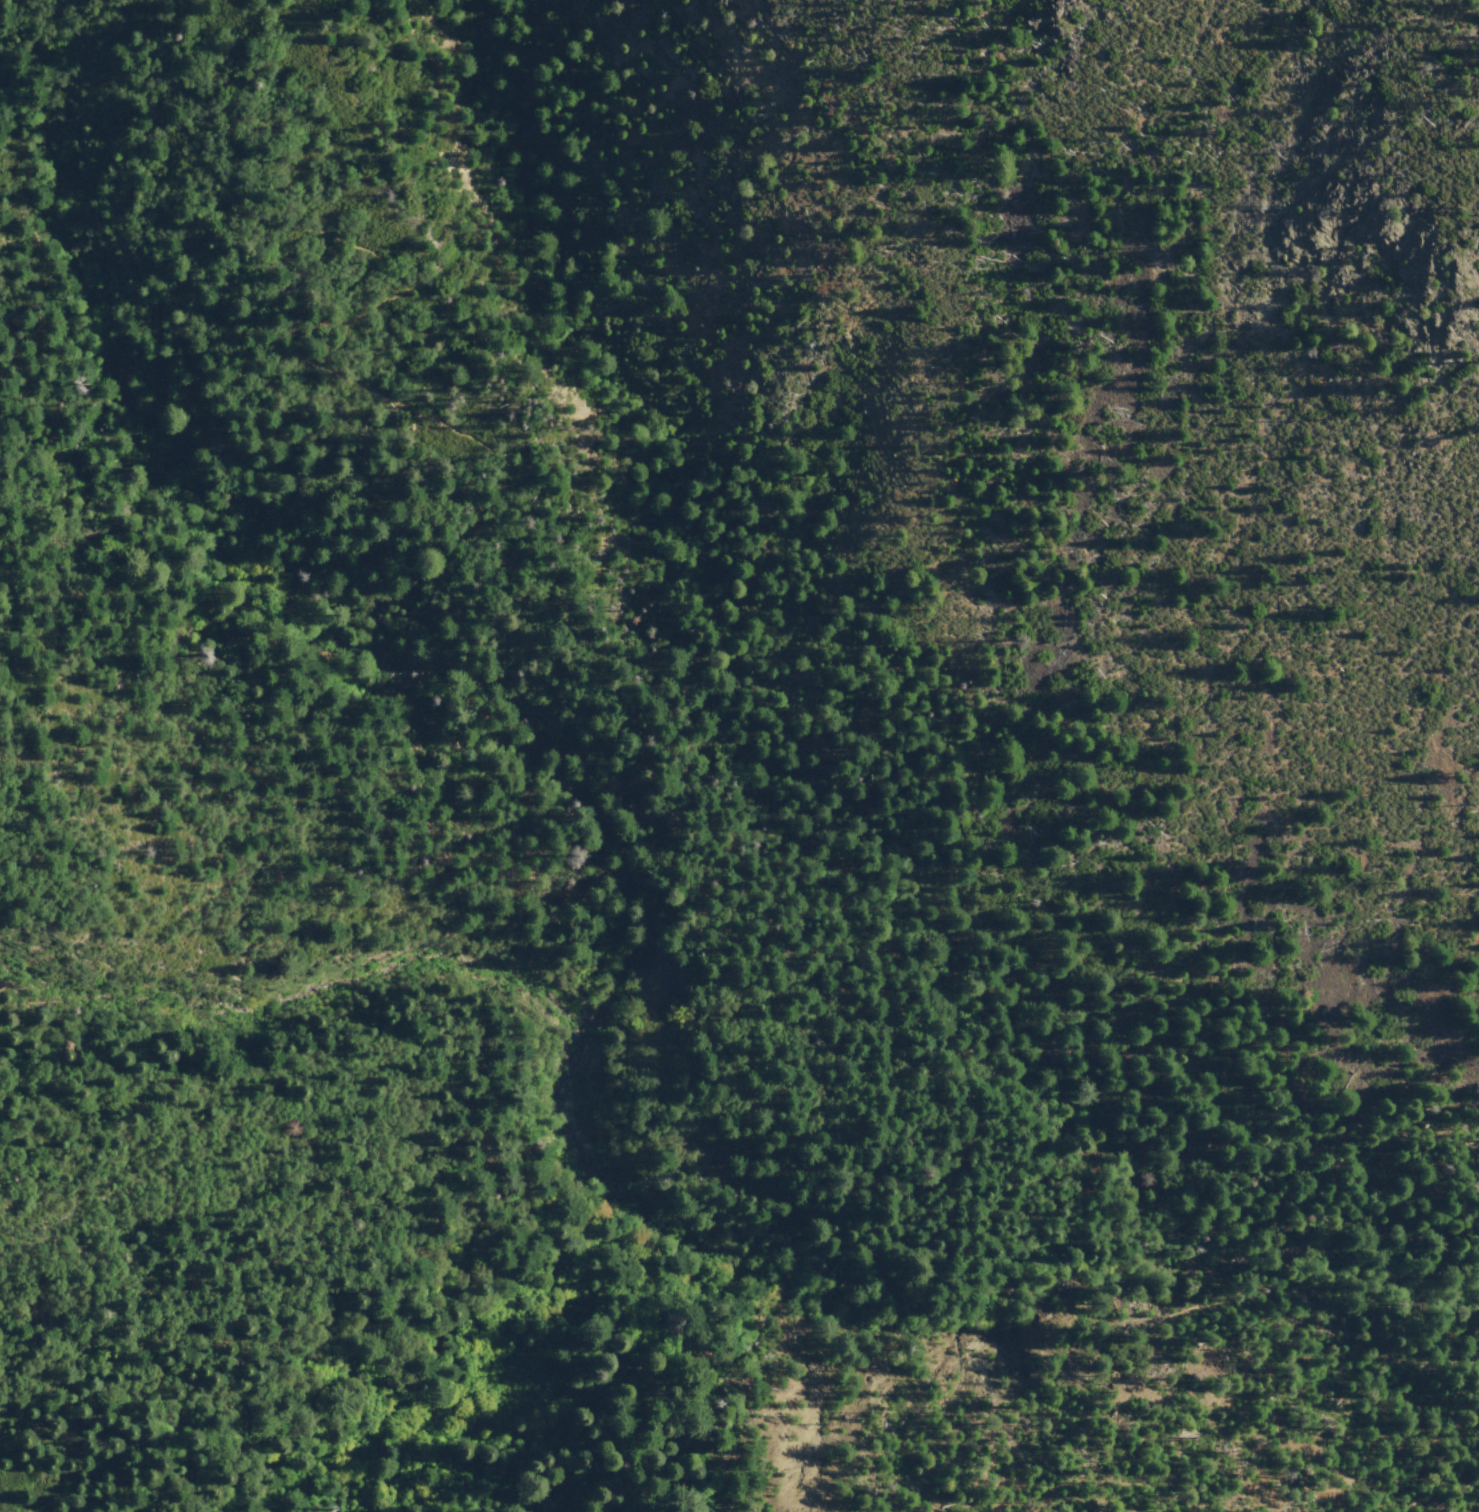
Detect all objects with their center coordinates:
road: (624, 733)

